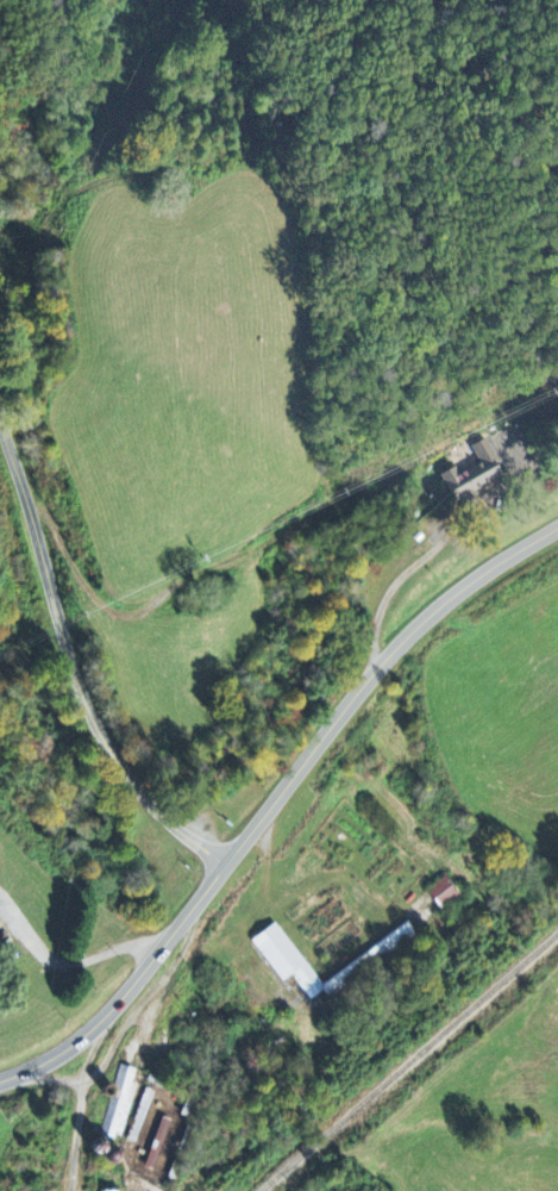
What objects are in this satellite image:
building: (478, 474)
road: (74, 666)
road: (276, 798)
building: (446, 893)
road: (70, 960)
building: (296, 965)
railway: (408, 1062)
building: (121, 1104)
building: (142, 1117)
building: (159, 1145)

